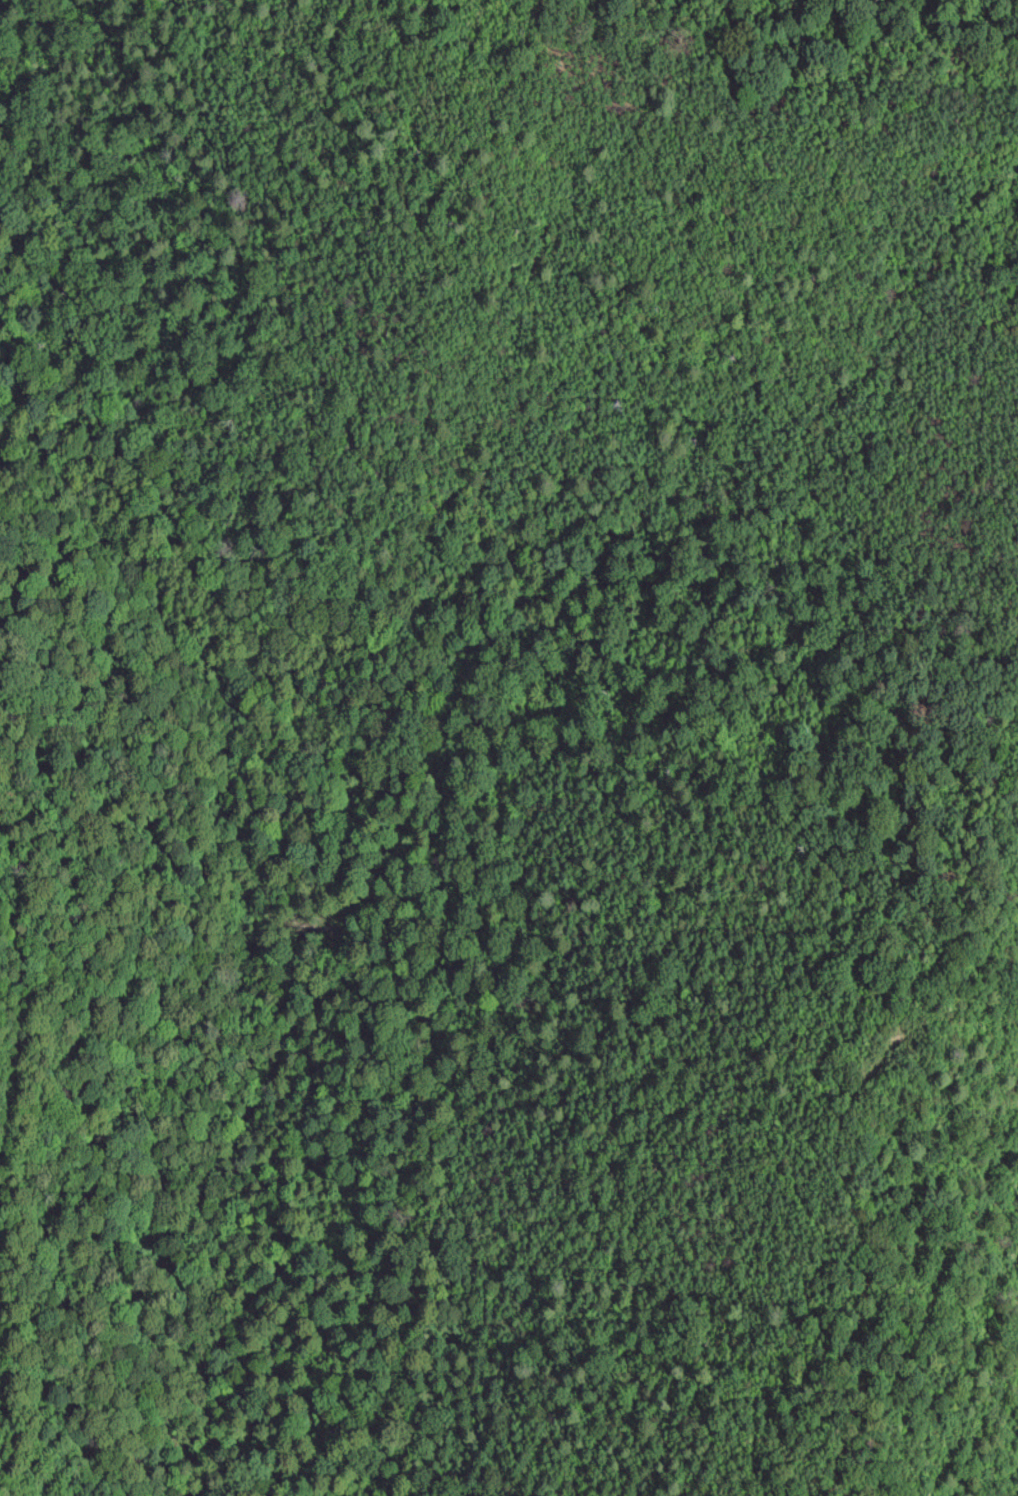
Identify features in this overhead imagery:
road: (0, 1176)

